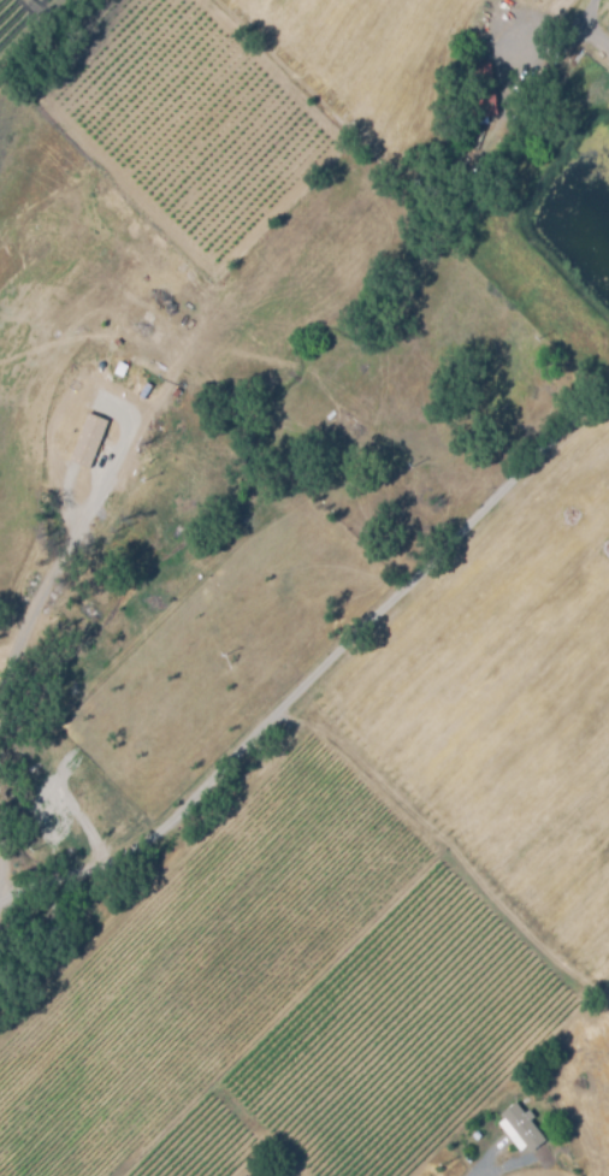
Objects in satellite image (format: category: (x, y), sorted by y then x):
road: (593, 26)
building: (484, 91)
building: (130, 398)
building: (353, 425)
building: (90, 445)
building: (130, 481)
road: (34, 590)
road: (321, 672)
road: (449, 853)
building: (521, 1128)

